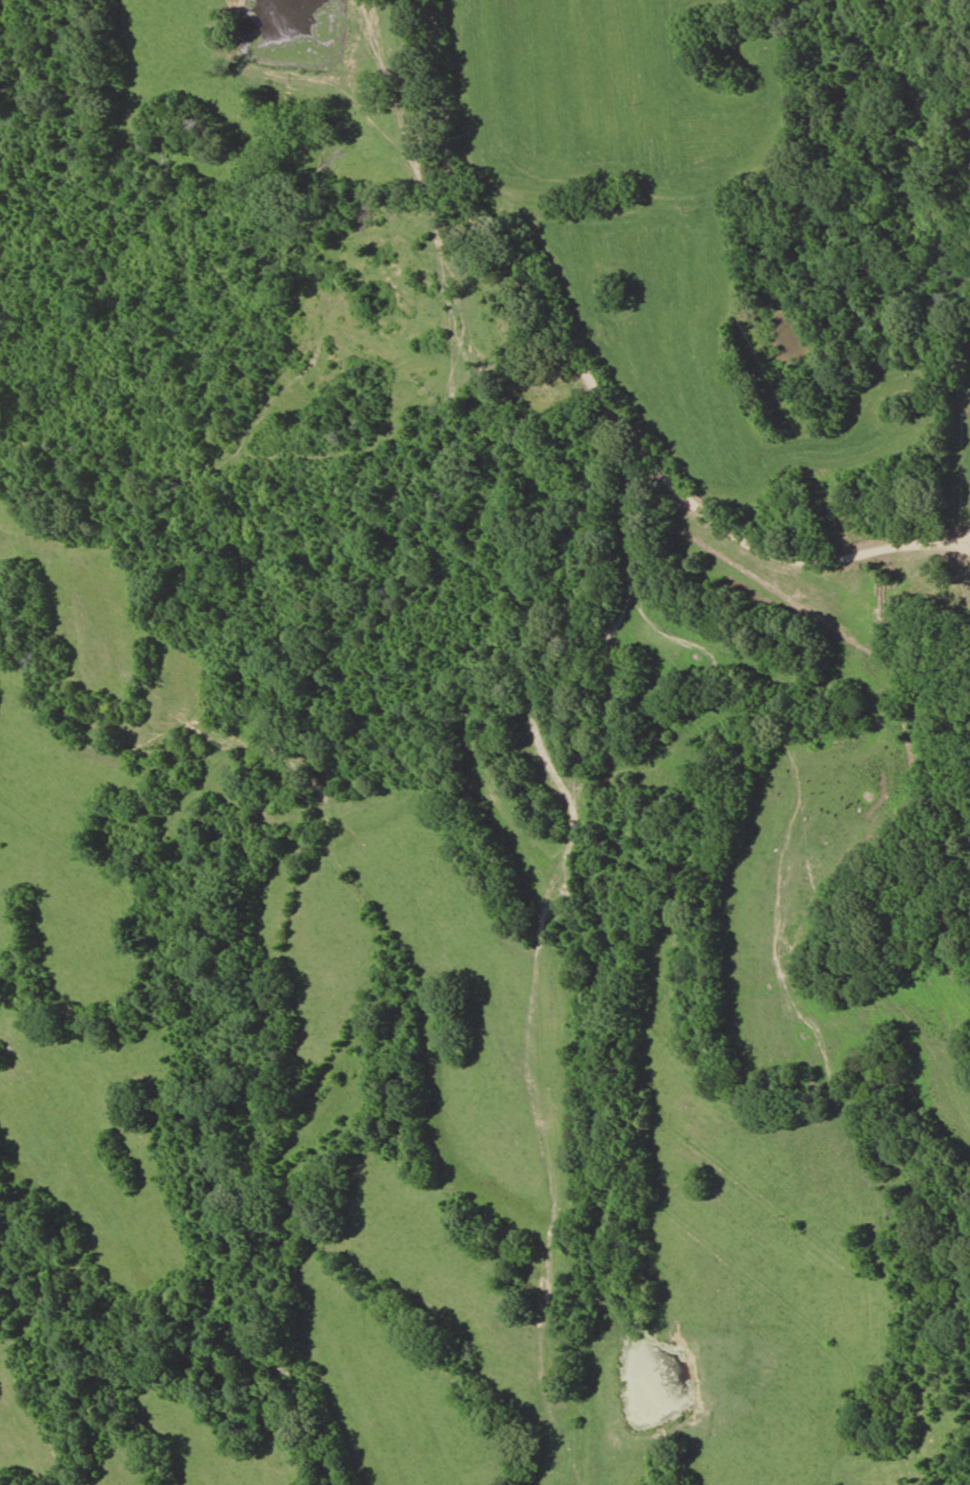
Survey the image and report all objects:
road: (635, 369)
road: (634, 970)
road: (933, 974)

